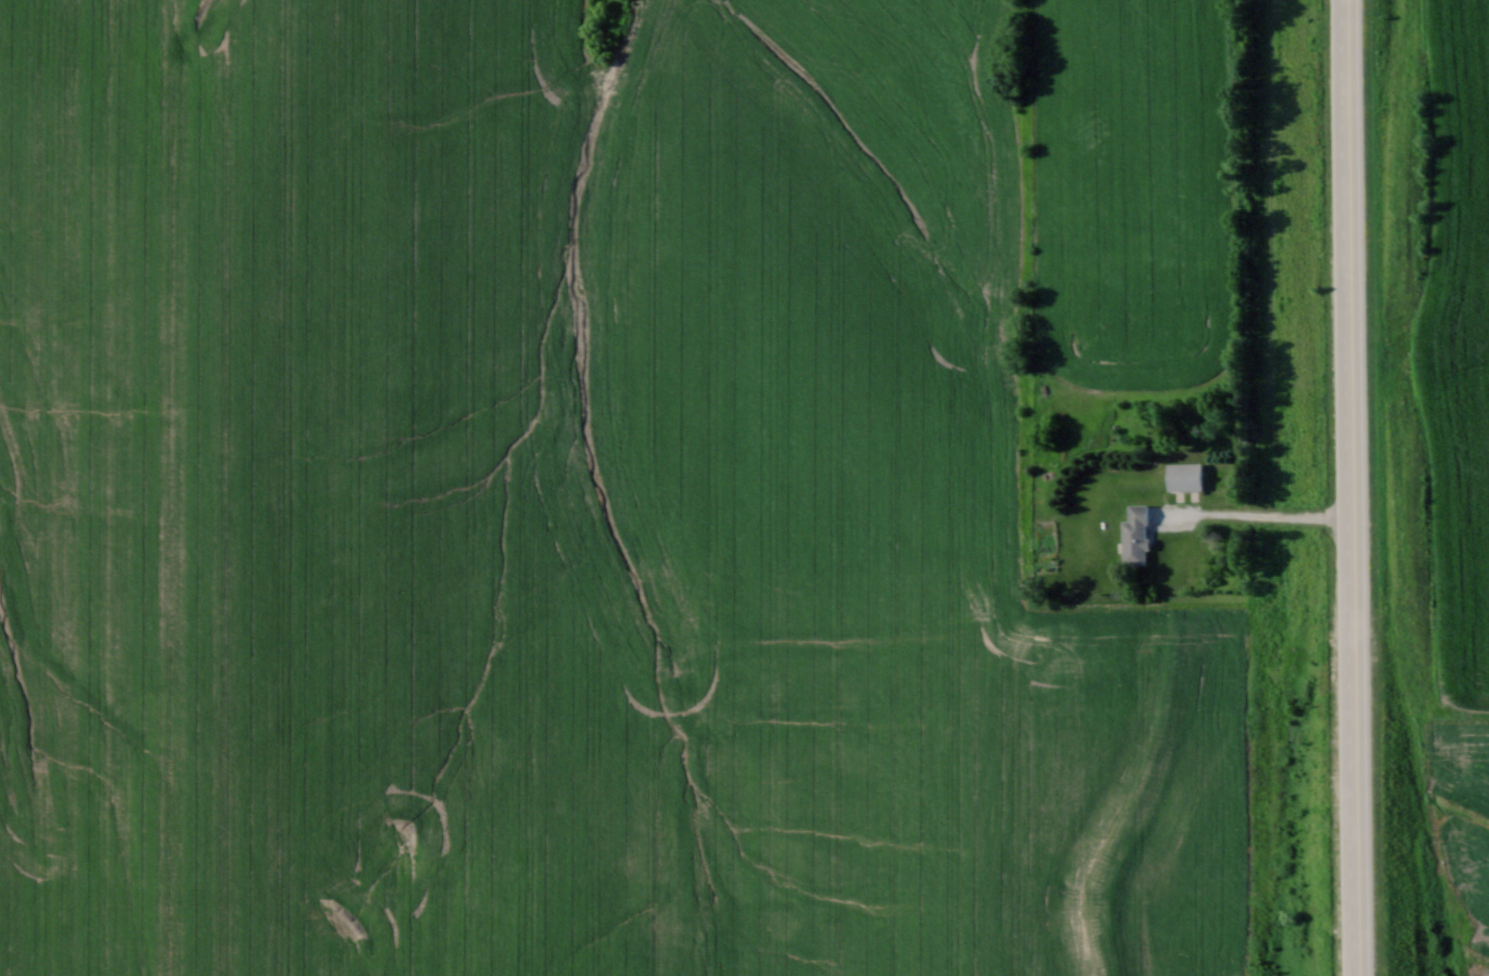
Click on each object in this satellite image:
building: (1184, 476)
road: (1352, 488)
road: (1254, 515)
building: (1135, 535)

